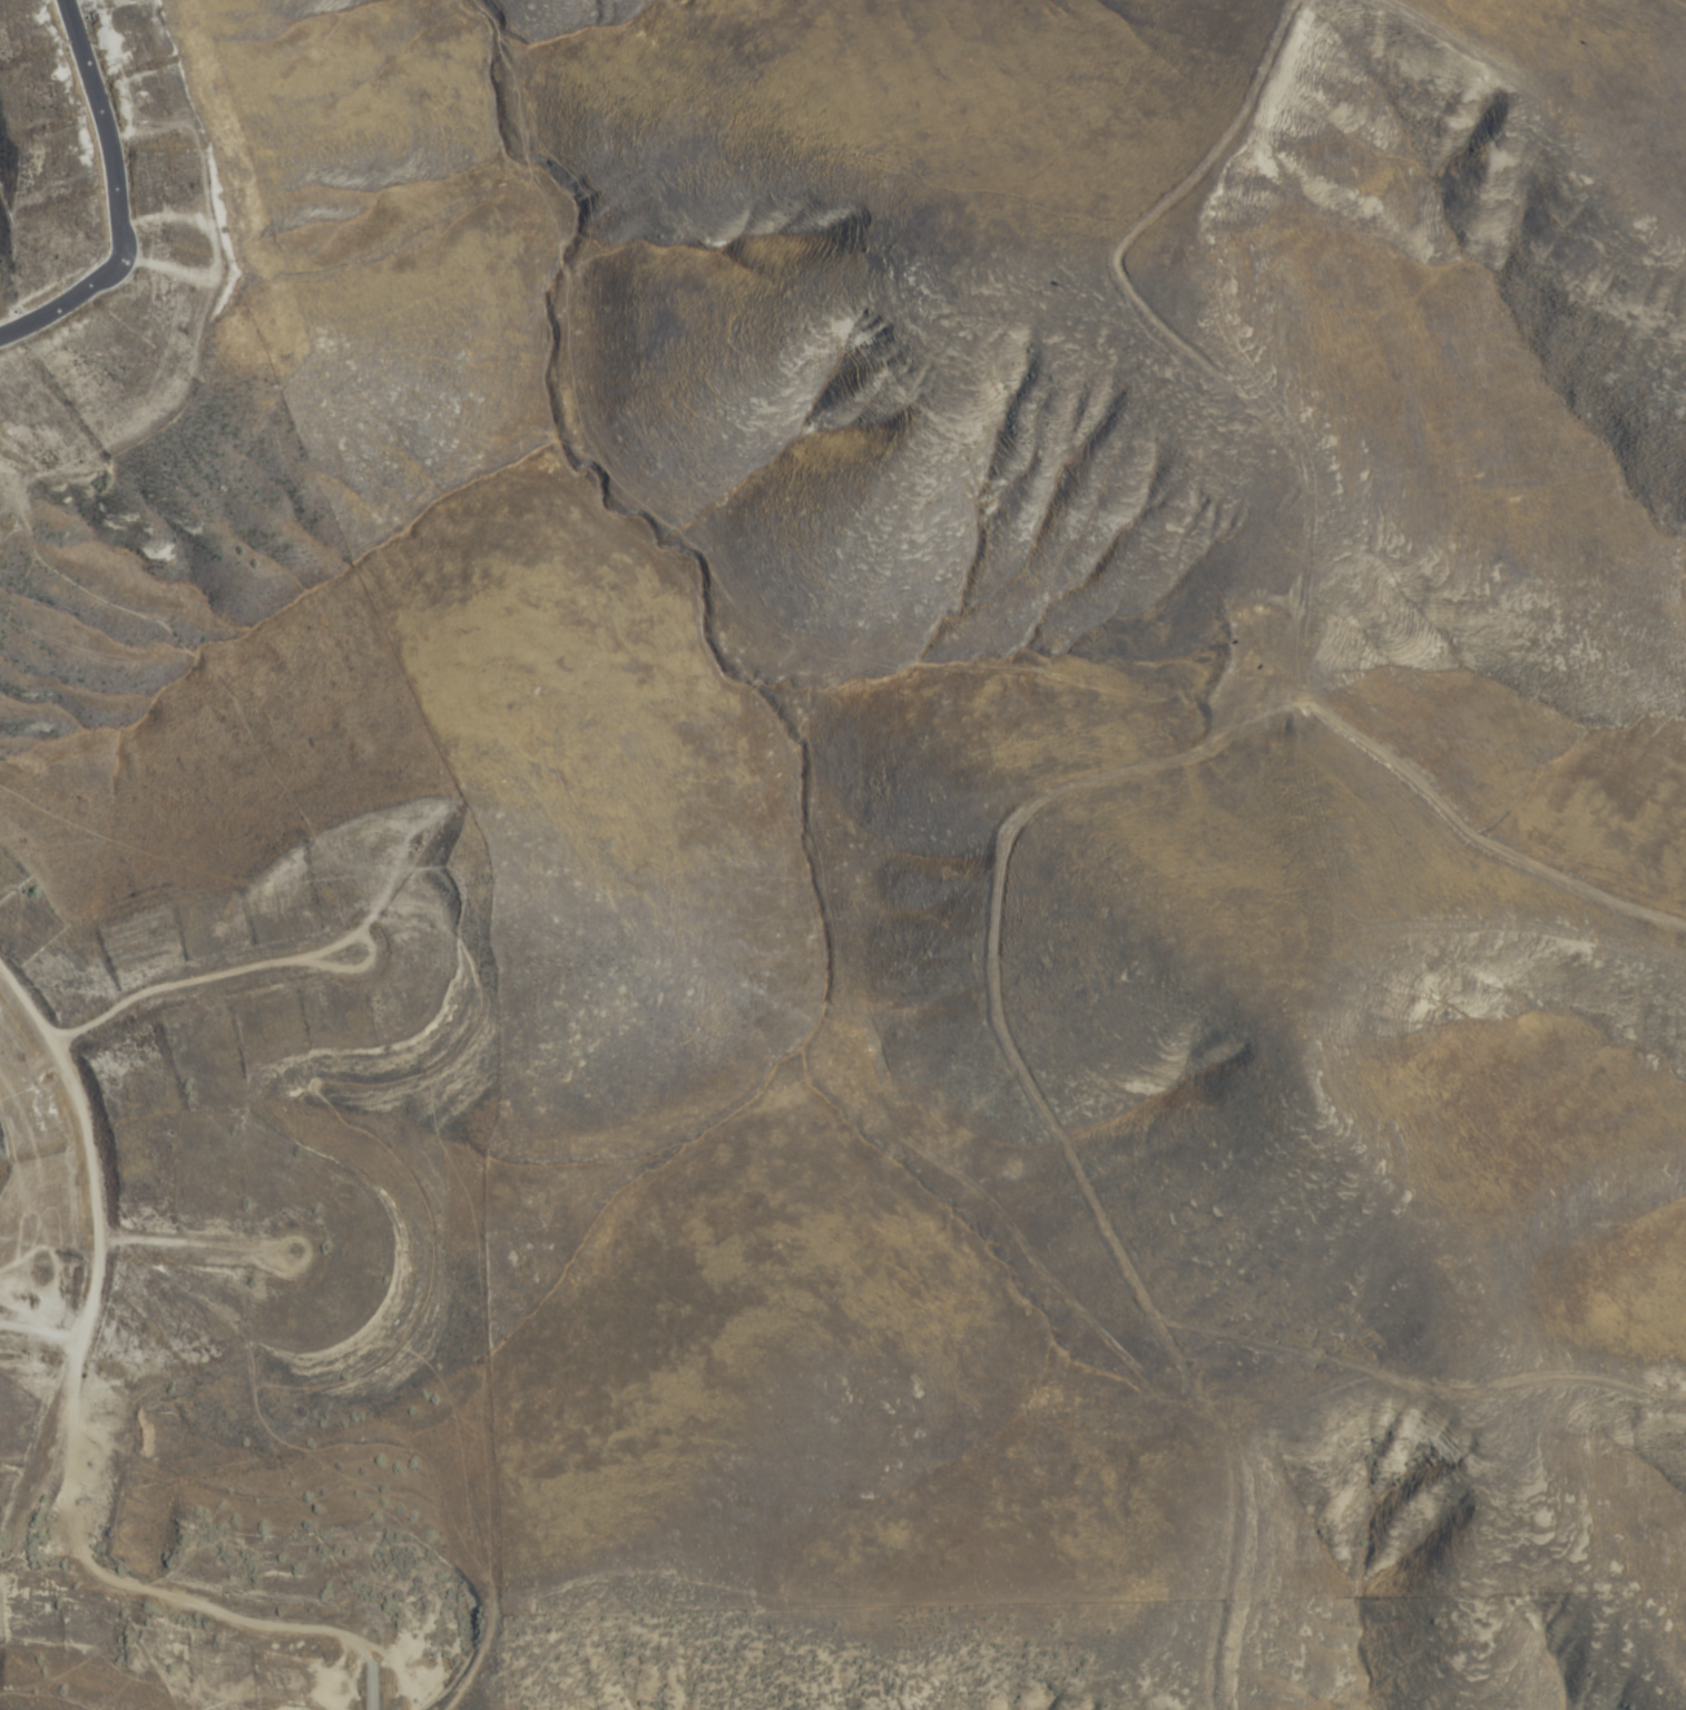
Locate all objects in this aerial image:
road: (109, 194)
road: (10, 956)
road: (76, 1329)

